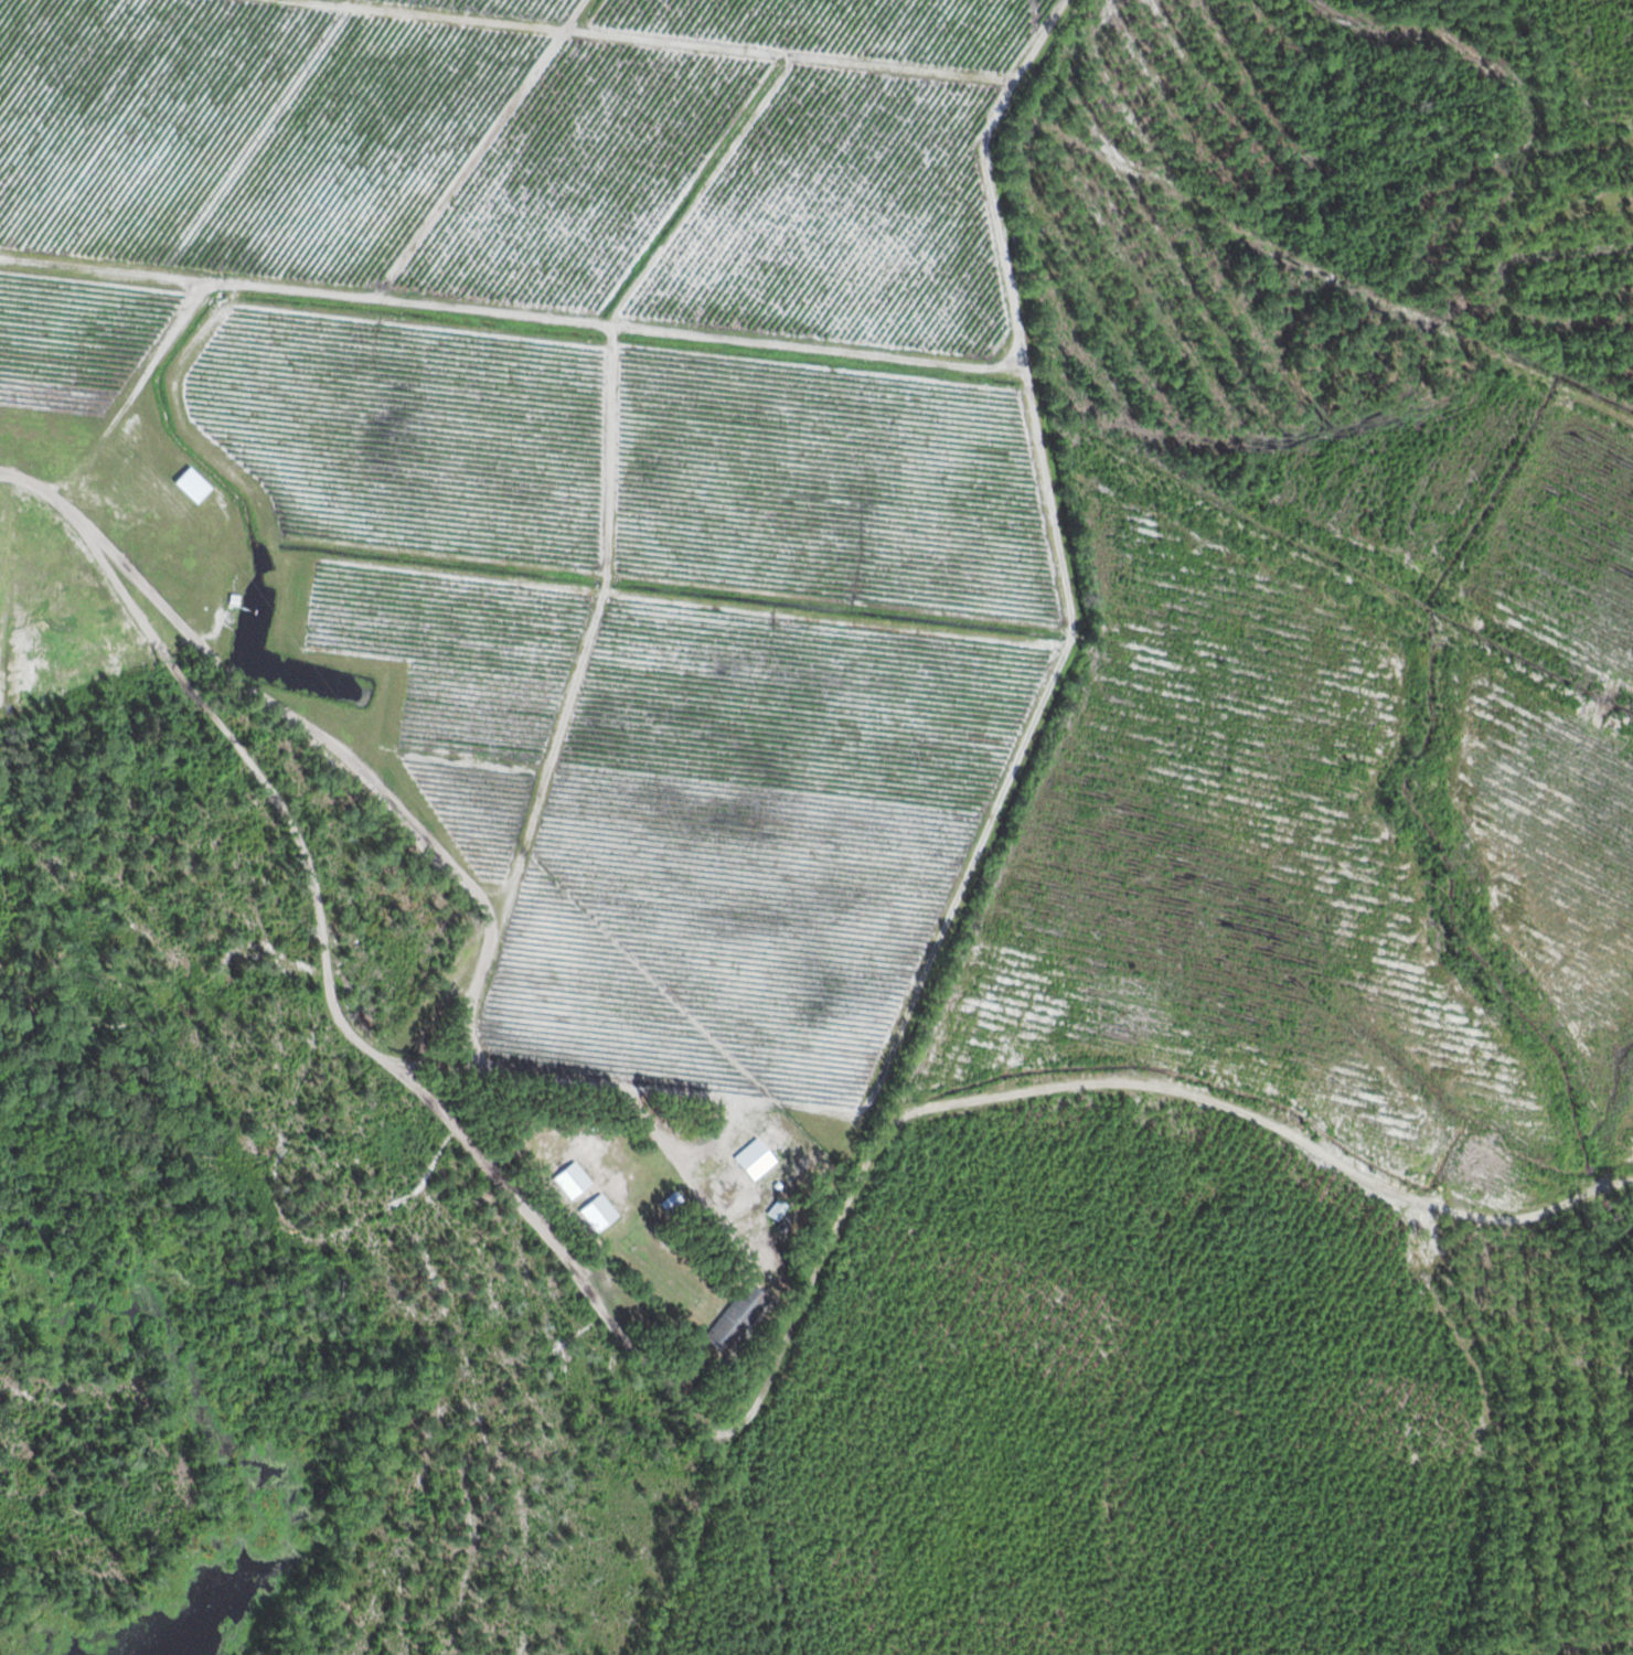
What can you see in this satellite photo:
road: (813, 344)
park: (13, 596)
building: (773, 1211)
building: (733, 1322)

